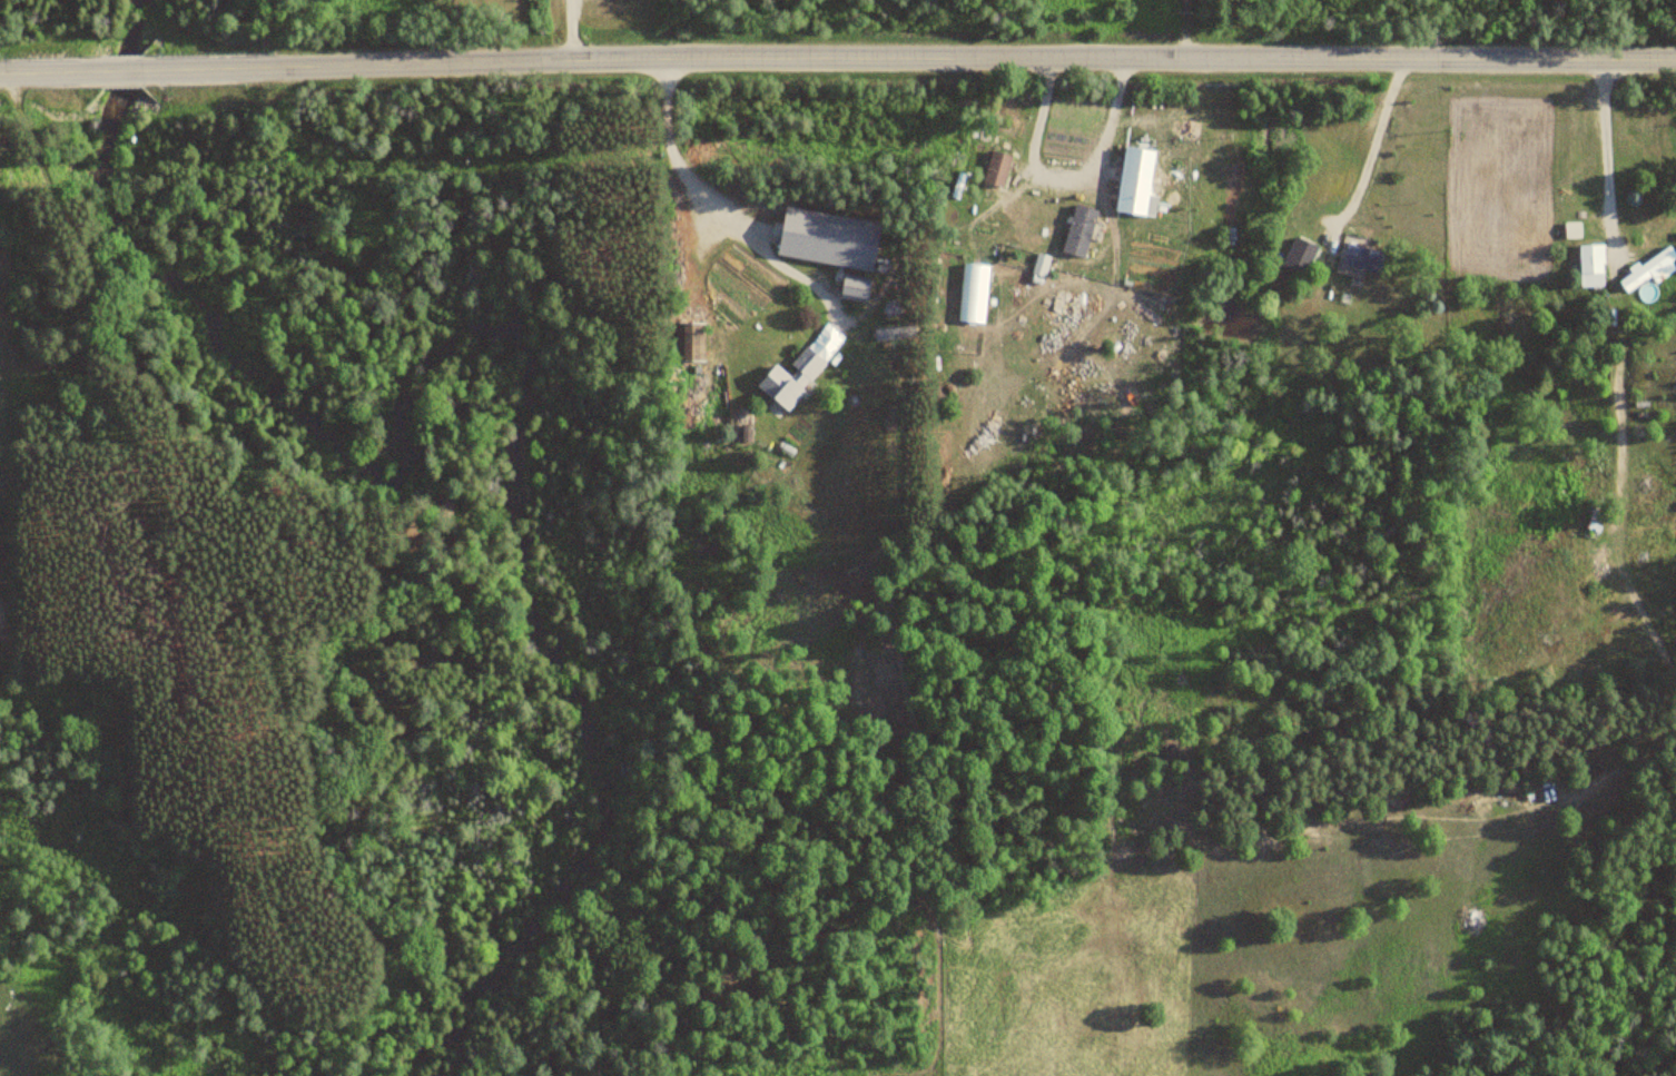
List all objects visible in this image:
road: (909, 56)
road: (119, 72)
road: (47, 73)
building: (996, 169)
building: (1037, 215)
building: (1297, 256)
building: (1362, 258)
building: (1591, 265)
building: (1650, 269)
river: (490, 340)
building: (690, 342)
building: (790, 379)
building: (445, 509)
building: (1591, 530)

